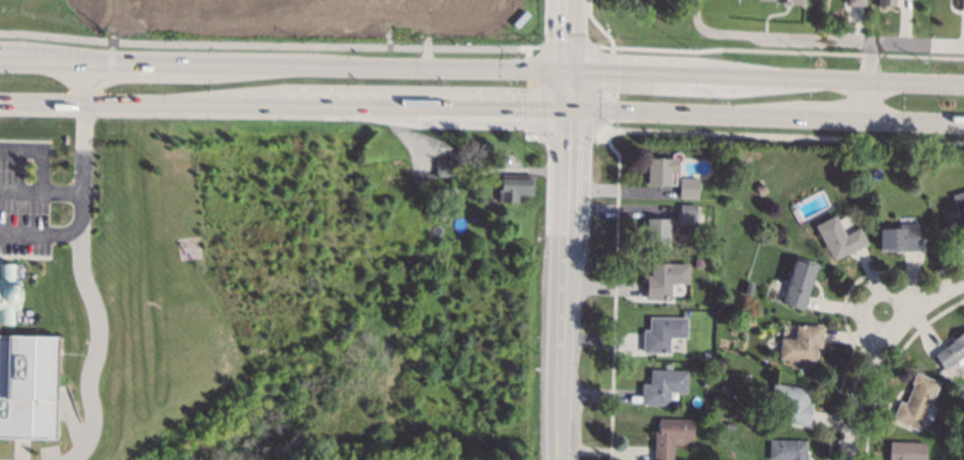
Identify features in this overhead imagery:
building: (787, 1)
building: (854, 2)
building: (884, 3)
building: (961, 5)
road: (101, 20)
road: (598, 27)
road: (712, 33)
road: (571, 34)
traffic signals: (571, 39)
road: (859, 40)
road: (266, 45)
road: (532, 46)
road: (567, 46)
road: (779, 50)
road: (41, 52)
road: (41, 64)
road: (197, 66)
road: (441, 67)
traffic signals: (616, 71)
road: (766, 76)
road: (867, 80)
road: (608, 87)
traffic signals: (616, 87)
road: (569, 88)
road: (388, 89)
road: (689, 89)
traffic signals: (521, 91)
road: (528, 93)
road: (206, 103)
road: (491, 106)
traffic signals: (520, 107)
road: (681, 113)
road: (830, 119)
road: (915, 122)
road: (777, 136)
road: (529, 137)
road: (564, 137)
traffic signals: (568, 146)
road: (39, 152)
road: (466, 163)
building: (444, 168)
building: (660, 171)
building: (688, 189)
building: (761, 189)
building: (512, 190)
road: (39, 191)
building: (448, 192)
building: (472, 195)
building: (959, 207)
building: (687, 214)
building: (656, 232)
road: (38, 235)
building: (839, 238)
building: (899, 239)
building: (698, 263)
road: (80, 275)
building: (664, 279)
road: (564, 283)
building: (798, 283)
road: (613, 289)
building: (748, 289)
building: (13, 295)
road: (933, 305)
building: (749, 322)
building: (662, 334)
building: (801, 345)
building: (952, 353)
building: (707, 354)
building: (706, 373)
building: (28, 386)
building: (663, 387)
building: (724, 388)
road: (864, 388)
building: (917, 403)
building: (792, 404)
building: (730, 427)
building: (671, 436)
building: (787, 450)
building: (907, 451)

